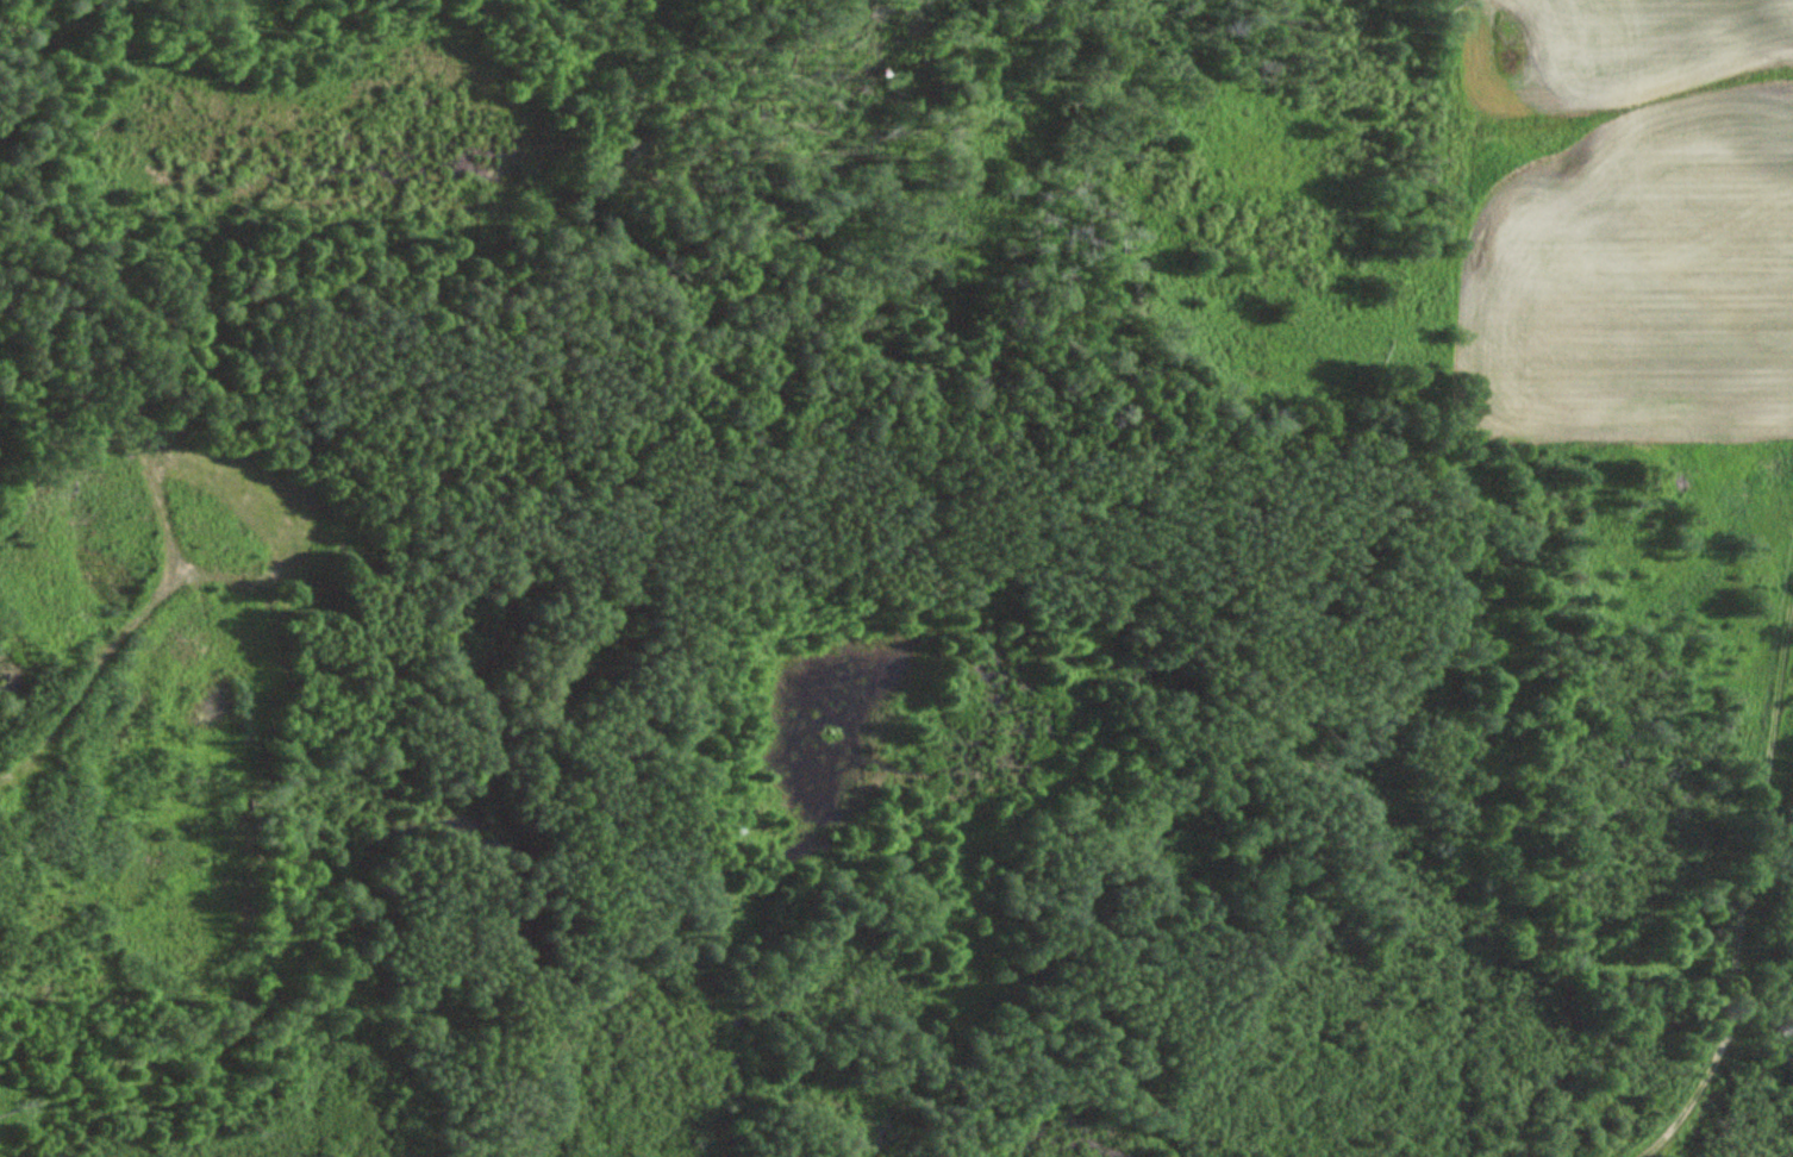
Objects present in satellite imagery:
road: (1744, 905)

